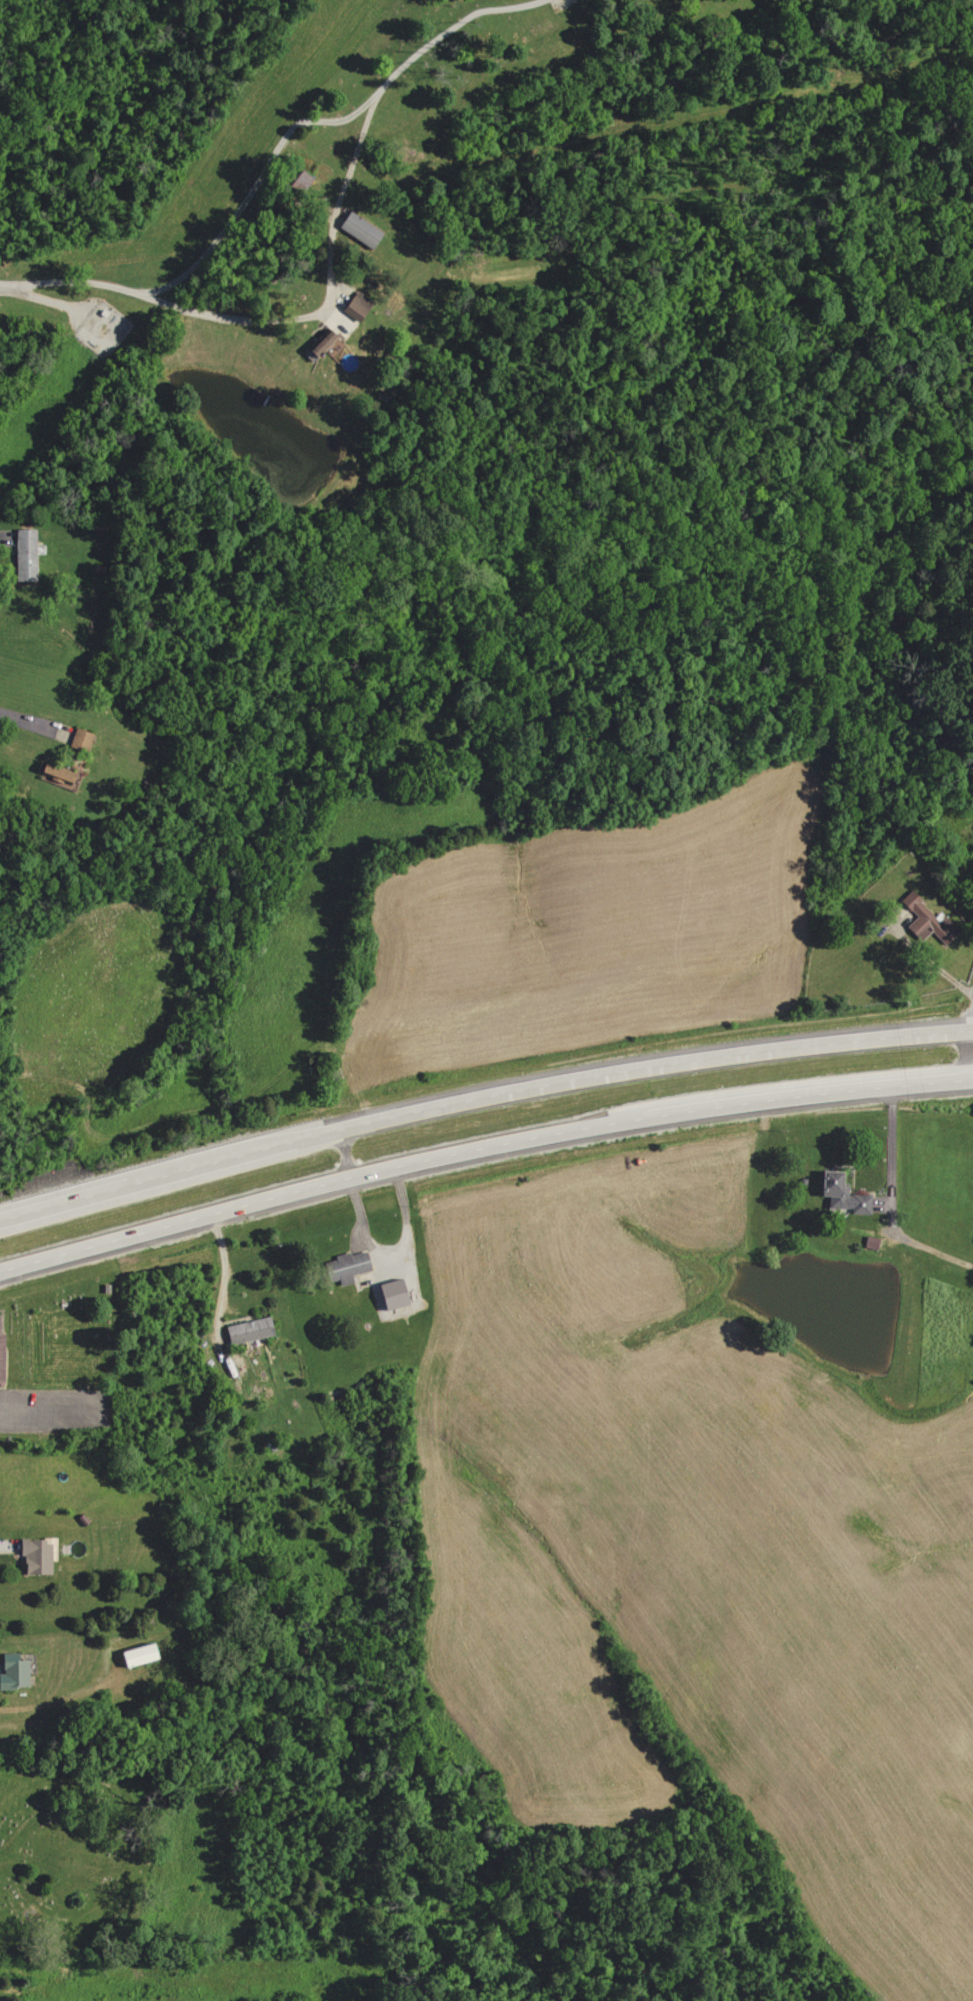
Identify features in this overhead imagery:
road: (454, 27)
road: (254, 184)
building: (359, 230)
building: (355, 305)
road: (277, 320)
building: (323, 344)
building: (24, 555)
building: (79, 739)
building: (50, 773)
building: (925, 920)
road: (925, 955)
road: (965, 987)
road: (636, 1065)
road: (972, 1072)
road: (972, 1075)
road: (803, 1095)
road: (333, 1154)
road: (152, 1178)
road: (315, 1184)
building: (839, 1195)
building: (345, 1267)
road: (219, 1286)
building: (390, 1294)
building: (247, 1331)
building: (3, 1351)
road: (45, 1409)
building: (35, 1554)
building: (134, 1654)
building: (13, 1673)
park: (61, 1852)

